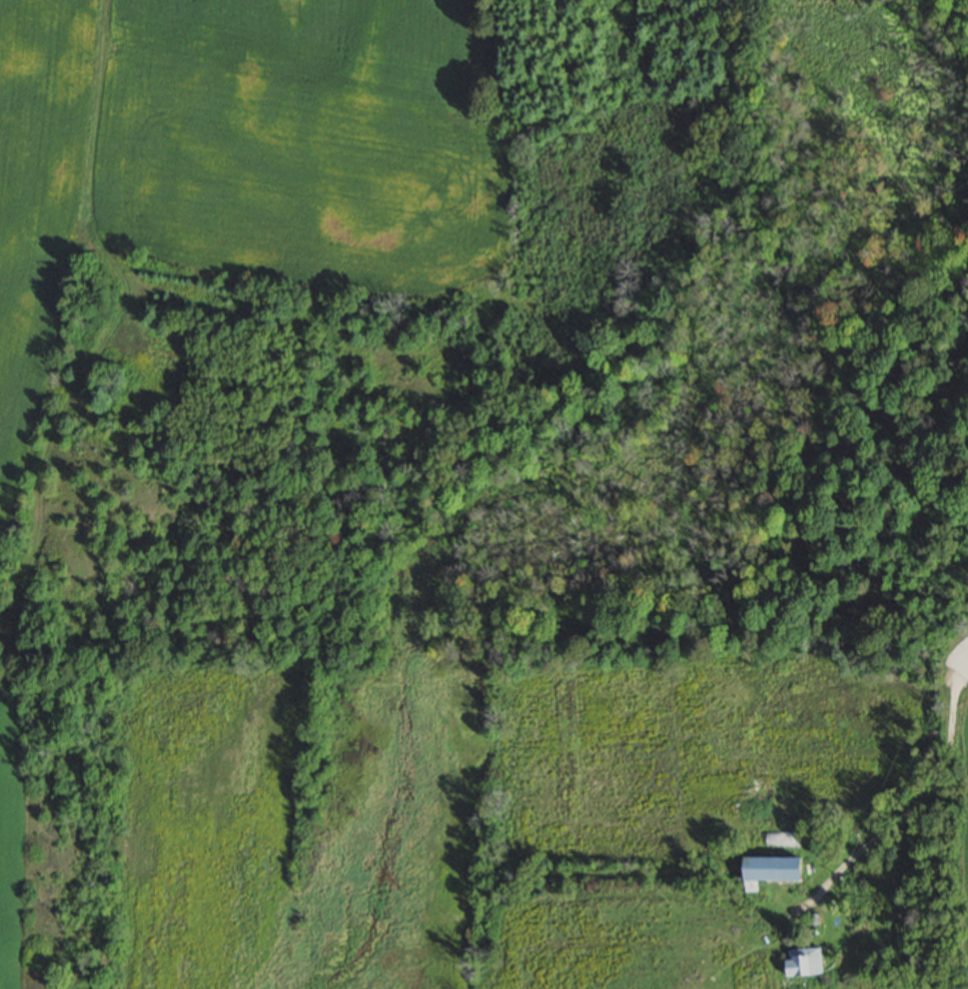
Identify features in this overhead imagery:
road: (963, 665)
building: (765, 869)
building: (800, 962)

